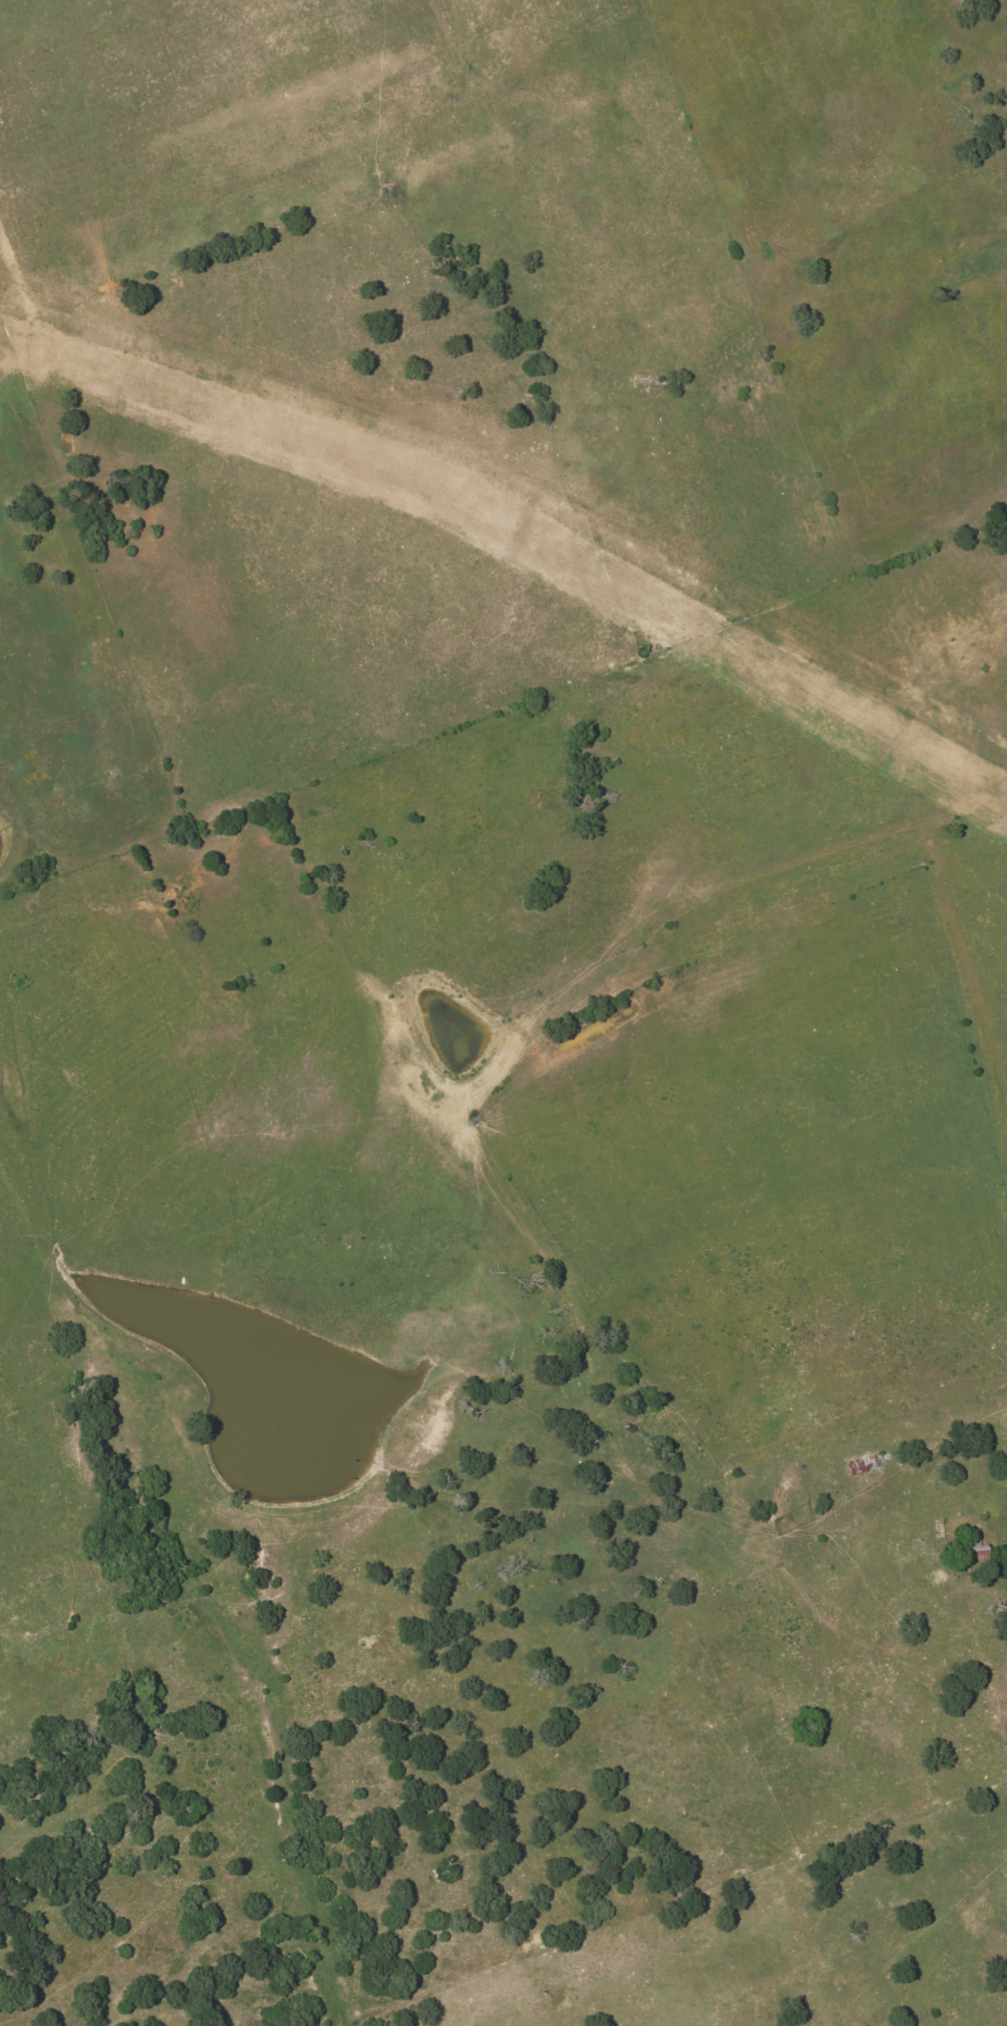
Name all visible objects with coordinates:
park: (537, 710)
park: (537, 896)

